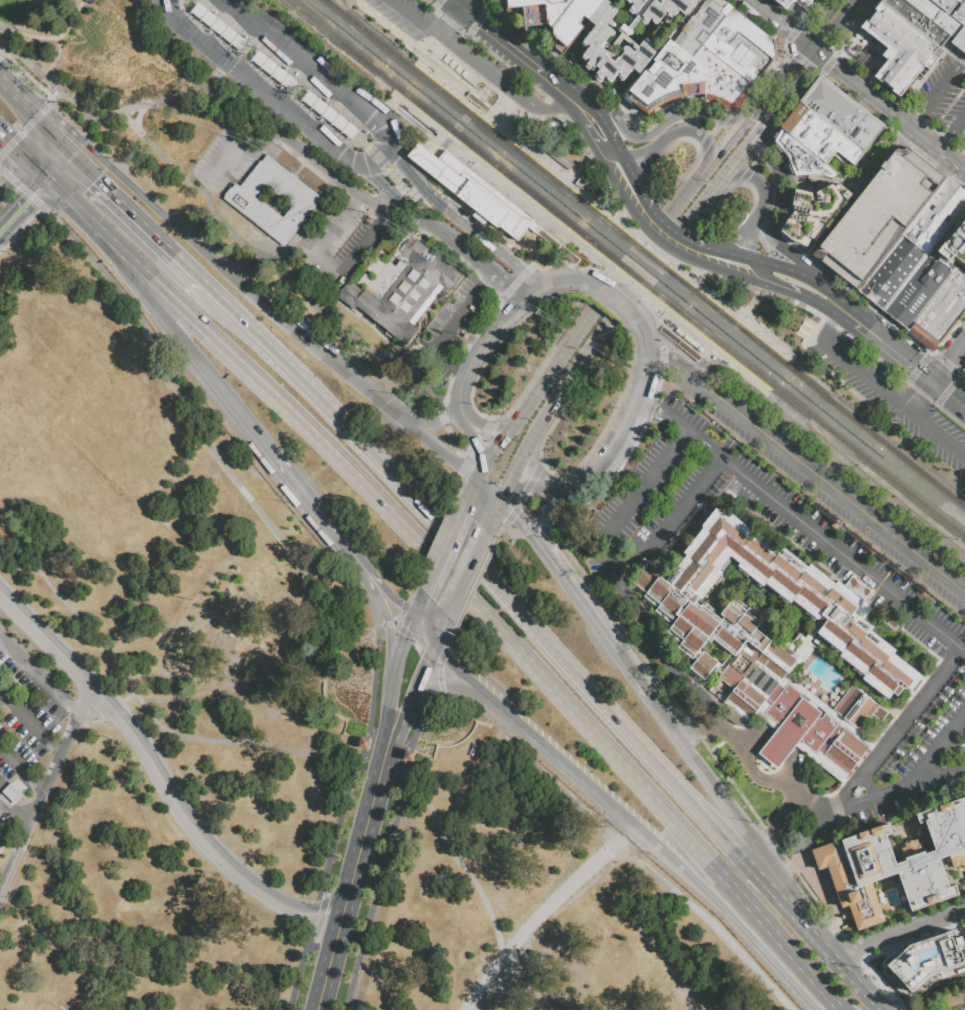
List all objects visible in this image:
building: (784, 3)
road: (435, 4)
road: (455, 4)
road: (464, 4)
road: (486, 4)
road: (756, 4)
building: (947, 5)
building: (658, 8)
traffic signals: (461, 9)
road: (243, 11)
parking lot: (665, 14)
building: (934, 14)
building: (557, 16)
road: (454, 17)
road: (417, 20)
building: (916, 20)
building: (957, 20)
road: (448, 21)
road: (476, 21)
road: (432, 22)
parking lot: (418, 24)
road: (831, 25)
building: (885, 26)
building: (219, 27)
building: (699, 27)
park: (39, 29)
road: (787, 29)
building: (744, 32)
road: (495, 36)
road: (196, 38)
building: (960, 40)
road: (413, 42)
building: (592, 43)
building: (916, 50)
building: (964, 50)
traffic signals: (812, 51)
road: (297, 53)
road: (469, 54)
building: (737, 54)
road: (24, 60)
road: (963, 62)
road: (833, 67)
building: (273, 70)
road: (449, 72)
road: (221, 73)
building: (894, 73)
road: (474, 74)
building: (668, 78)
road: (549, 79)
building: (722, 79)
road: (775, 83)
road: (934, 93)
parking lot: (944, 93)
road: (19, 95)
road: (52, 96)
road: (471, 96)
road: (354, 98)
road: (524, 98)
road: (580, 99)
road: (275, 103)
road: (601, 104)
building: (478, 105)
road: (880, 105)
road: (133, 106)
building: (833, 106)
road: (396, 107)
road: (562, 111)
road: (241, 115)
building: (329, 115)
road: (575, 115)
road: (669, 115)
road: (772, 115)
road: (560, 117)
road: (378, 120)
road: (720, 121)
road: (42, 126)
road: (23, 128)
road: (607, 130)
road: (694, 130)
building: (865, 132)
road: (951, 132)
building: (819, 135)
traffic signals: (6, 143)
road: (764, 144)
road: (725, 147)
road: (56, 148)
road: (601, 148)
road: (935, 148)
road: (13, 149)
road: (334, 149)
road: (36, 150)
road: (594, 150)
road: (636, 153)
road: (239, 155)
building: (803, 157)
road: (880, 157)
road: (381, 158)
building: (560, 159)
traffic signals: (107, 164)
road: (324, 166)
road: (55, 168)
road: (18, 170)
road: (35, 171)
road: (644, 171)
road: (631, 176)
road: (374, 180)
traffic signals: (93, 182)
road: (397, 182)
road: (820, 182)
road: (456, 183)
road: (5, 184)
road: (761, 187)
road: (20, 188)
road: (689, 190)
building: (473, 191)
building: (595, 197)
road: (707, 197)
traffic signals: (28, 199)
road: (880, 199)
building: (243, 201)
road: (22, 204)
building: (812, 211)
road: (774, 213)
road: (453, 215)
building: (880, 215)
parking garage: (880, 217)
building: (936, 217)
road: (523, 219)
road: (136, 224)
road: (19, 226)
building: (533, 227)
road: (829, 227)
road: (436, 228)
road: (667, 228)
road: (535, 229)
road: (98, 231)
road: (748, 242)
building: (556, 245)
road: (664, 245)
road: (730, 245)
building: (955, 245)
railway: (644, 254)
road: (726, 254)
road: (223, 266)
road: (782, 268)
road: (331, 269)
railway: (624, 270)
building: (891, 271)
road: (763, 276)
road: (503, 279)
road: (563, 281)
building: (957, 281)
road: (297, 284)
road: (771, 285)
building: (919, 287)
building: (401, 288)
road: (757, 289)
road: (535, 293)
road: (832, 293)
building: (718, 294)
road: (814, 299)
road: (747, 309)
building: (937, 316)
road: (852, 318)
road: (832, 324)
road: (247, 330)
road: (438, 330)
road: (810, 334)
road: (642, 336)
road: (178, 337)
road: (484, 338)
road: (817, 338)
building: (679, 343)
railway: (781, 345)
road: (897, 352)
road: (949, 360)
road: (707, 361)
road: (556, 364)
road: (829, 372)
road: (866, 378)
traffic signals: (934, 381)
road: (528, 382)
railway: (752, 387)
road: (559, 392)
road: (949, 392)
parking lot: (887, 395)
road: (922, 397)
road: (458, 400)
road: (567, 400)
road: (650, 411)
road: (244, 417)
road: (210, 418)
road: (434, 422)
road: (677, 422)
road: (485, 426)
road: (938, 434)
road: (809, 435)
road: (469, 436)
road: (500, 439)
road: (704, 439)
traffic signals: (475, 443)
parking lot: (670, 444)
road: (698, 445)
traffic signals: (495, 448)
road: (442, 450)
road: (600, 459)
road: (807, 467)
road: (482, 470)
road: (462, 479)
road: (535, 480)
road: (507, 484)
parking lot: (828, 484)
road: (487, 490)
road: (638, 490)
road: (470, 494)
road: (316, 509)
road: (514, 509)
road: (491, 515)
road: (670, 515)
traffic signals: (515, 517)
road: (544, 517)
road: (521, 525)
traffic signals: (484, 531)
road: (436, 541)
road: (444, 550)
road: (842, 554)
road: (465, 571)
road: (477, 583)
road: (412, 591)
traffic signals: (425, 592)
road: (386, 593)
road: (500, 593)
building: (795, 596)
road: (382, 606)
traffic signals: (398, 606)
road: (418, 606)
road: (754, 607)
road: (758, 610)
road: (402, 611)
road: (598, 625)
road: (441, 629)
road: (815, 631)
road: (423, 634)
road: (403, 635)
road: (507, 635)
road: (453, 637)
road: (410, 639)
road: (657, 648)
road: (442, 657)
traffic signals: (428, 664)
building: (746, 665)
road: (453, 667)
road: (797, 675)
road: (39, 677)
road: (13, 679)
road: (420, 682)
road: (440, 684)
road: (435, 691)
road: (389, 704)
building: (851, 704)
road: (147, 712)
road: (909, 712)
building: (868, 715)
road: (29, 722)
road: (671, 728)
road: (693, 729)
parking lot: (24, 730)
road: (855, 732)
road: (740, 733)
park: (279, 734)
road: (395, 738)
building: (361, 743)
road: (141, 745)
building: (778, 747)
road: (777, 749)
building: (408, 756)
road: (554, 757)
road: (359, 762)
road: (923, 764)
road: (52, 766)
road: (21, 767)
road: (791, 769)
road: (755, 774)
road: (946, 774)
road: (867, 786)
road: (795, 792)
road: (843, 794)
road: (726, 804)
road: (853, 805)
road: (811, 807)
road: (12, 814)
road: (774, 832)
road: (808, 835)
road: (361, 841)
road: (728, 841)
road: (385, 847)
road: (618, 847)
building: (894, 864)
road: (8, 870)
road: (817, 882)
road: (481, 894)
road: (543, 912)
road: (308, 913)
road: (728, 915)
road: (318, 918)
road: (899, 933)
road: (813, 934)
building: (923, 963)
road: (328, 966)
road: (298, 973)
road: (950, 1001)

